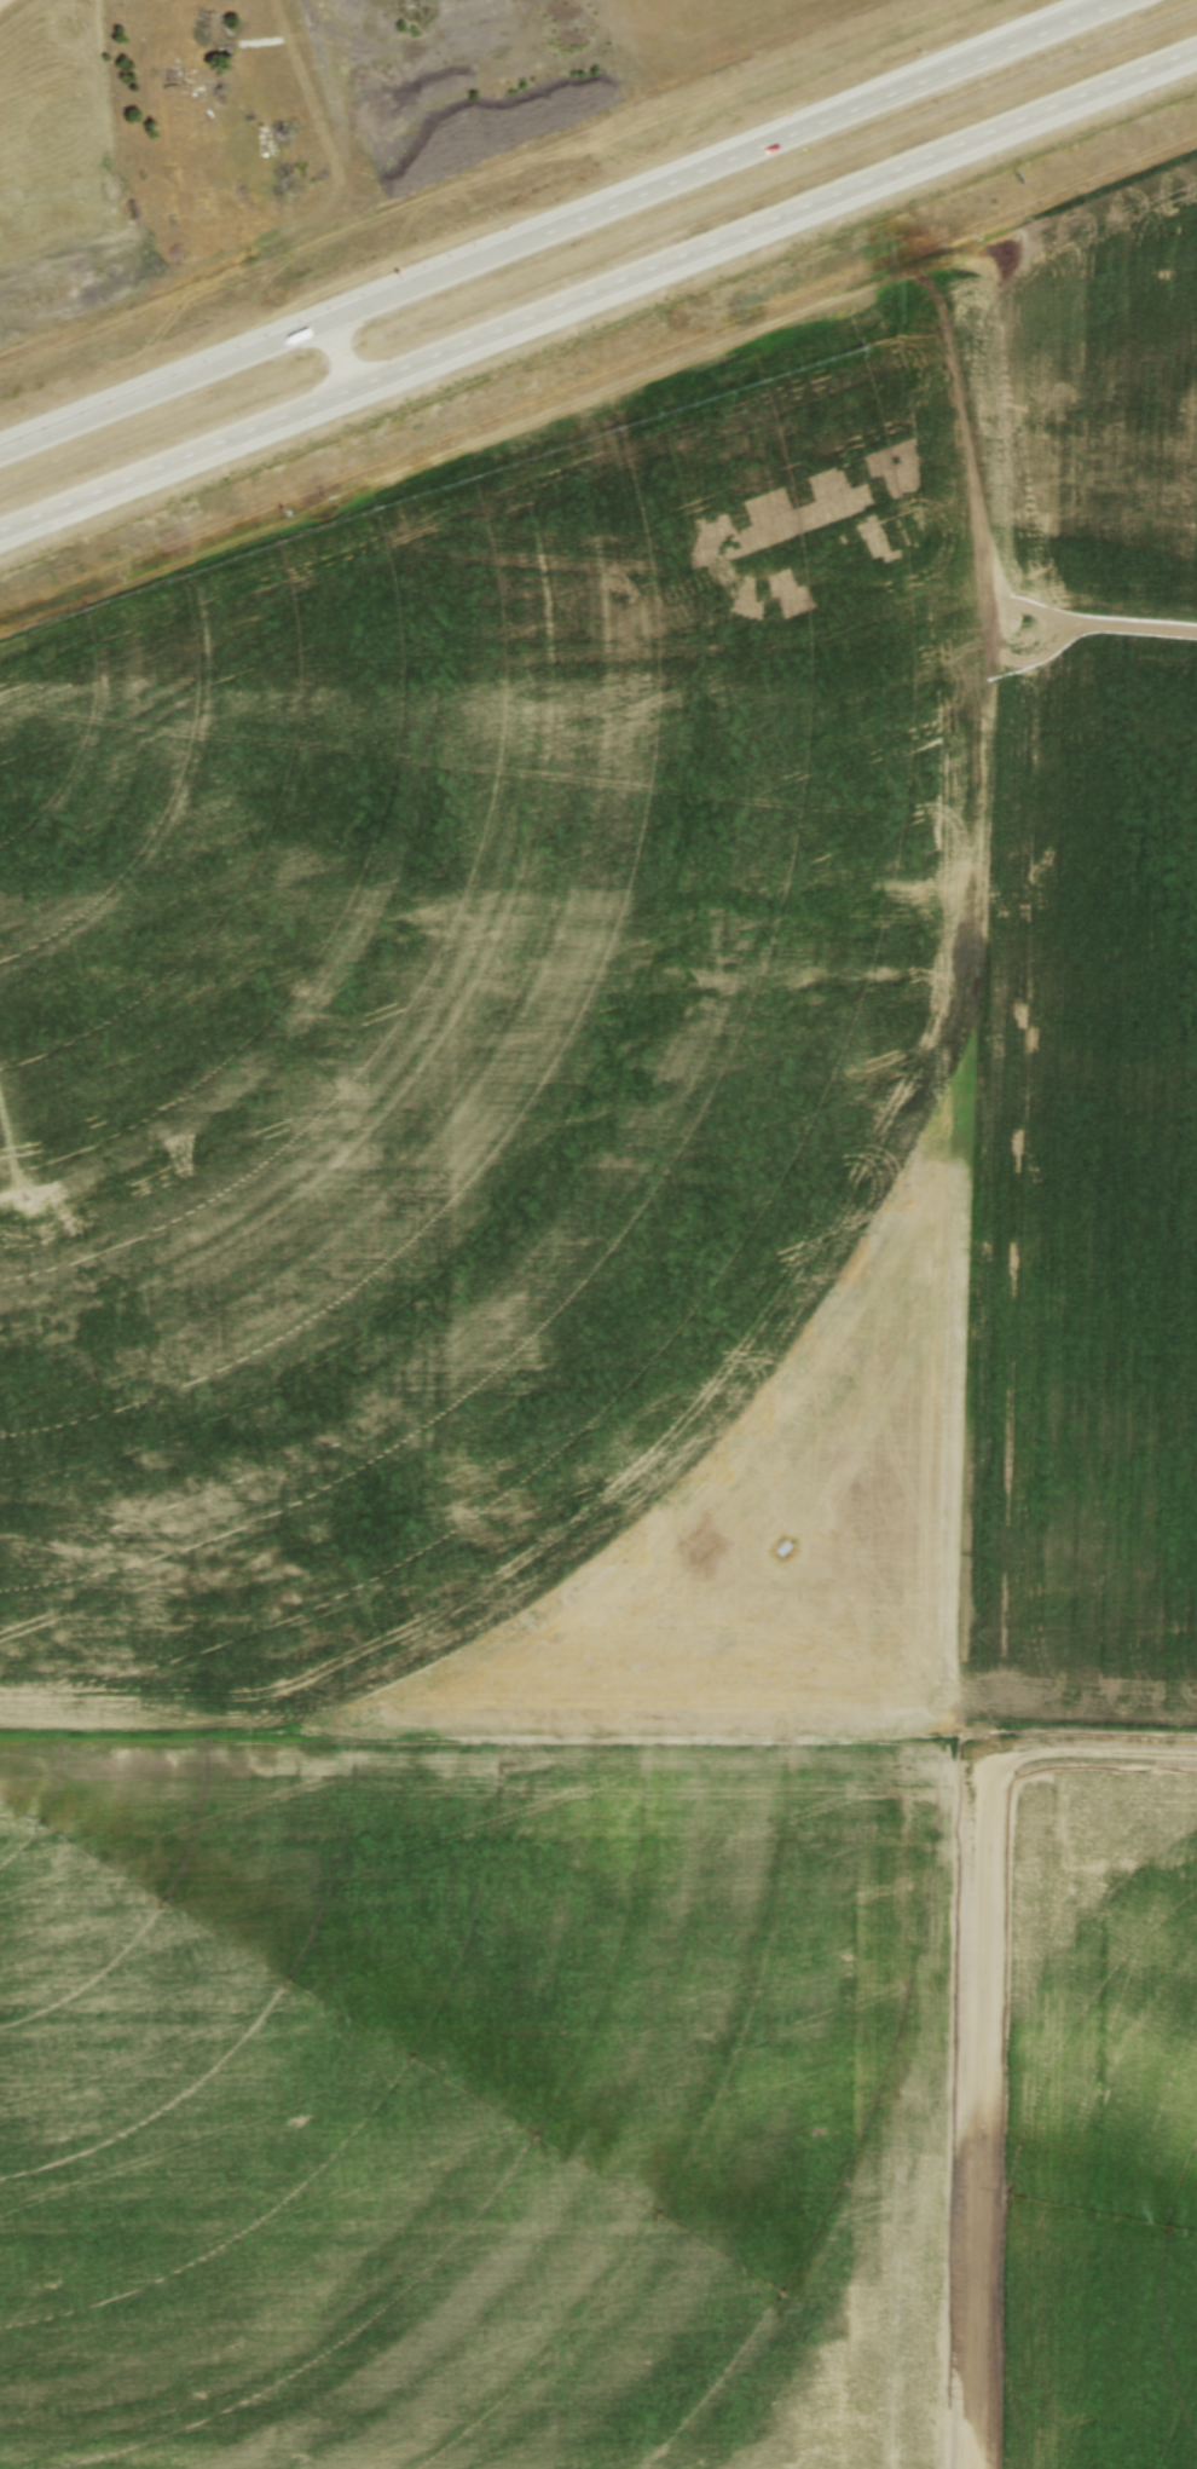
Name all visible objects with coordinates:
road: (567, 227)
road: (598, 290)
crop: (584, 1363)
airport runway: (978, 1740)
crop: (1100, 2127)

